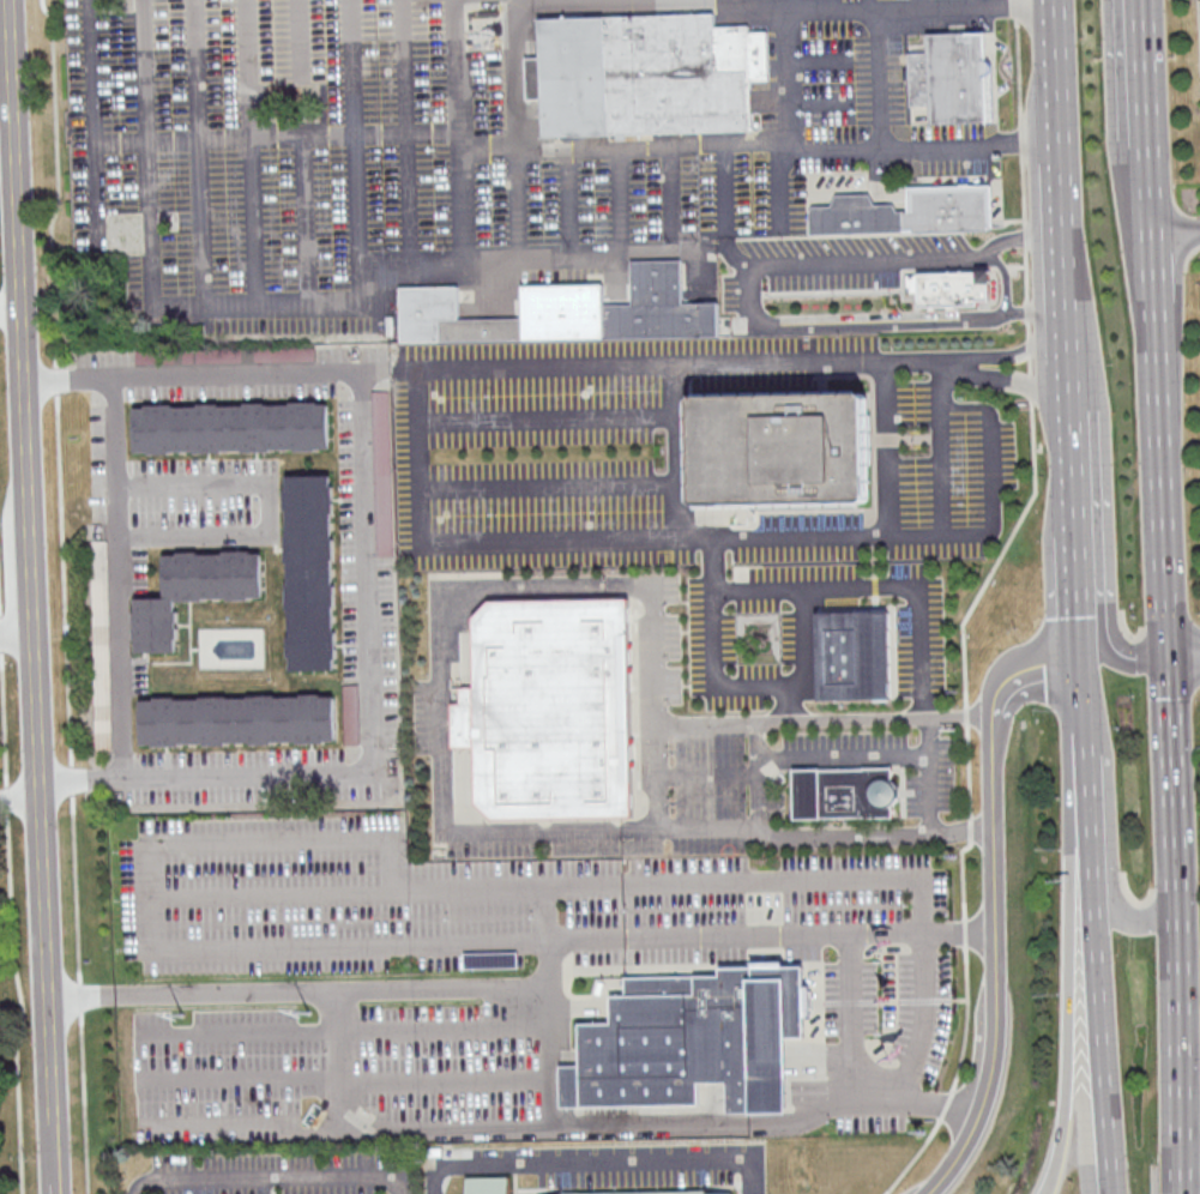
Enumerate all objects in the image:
road: (970, 0)
road: (625, 1)
road: (918, 1)
road: (578, 2)
road: (635, 2)
road: (836, 2)
road: (870, 4)
road: (822, 59)
road: (1145, 67)
building: (649, 74)
building: (952, 77)
road: (791, 78)
road: (824, 101)
road: (95, 125)
road: (519, 128)
road: (406, 131)
road: (360, 134)
road: (899, 144)
road: (670, 145)
road: (790, 149)
road: (200, 152)
road: (253, 152)
road: (304, 152)
road: (16, 157)
road: (724, 181)
road: (356, 183)
road: (59, 185)
road: (671, 198)
road: (571, 203)
road: (1063, 205)
building: (909, 212)
road: (1175, 234)
road: (674, 249)
road: (909, 259)
road: (465, 260)
road: (155, 276)
road: (1007, 277)
building: (954, 290)
building: (567, 310)
road: (11, 315)
road: (887, 321)
road: (1024, 348)
building: (239, 354)
road: (659, 367)
road: (822, 378)
road: (56, 381)
road: (1017, 382)
road: (1158, 396)
road: (1072, 414)
road: (571, 417)
building: (233, 429)
road: (906, 436)
building: (780, 446)
road: (943, 448)
road: (885, 450)
road: (874, 468)
road: (28, 475)
road: (1075, 476)
road: (679, 477)
road: (549, 481)
road: (266, 508)
road: (706, 541)
road: (367, 567)
building: (312, 575)
road: (1078, 575)
road: (116, 578)
road: (64, 581)
road: (881, 586)
building: (194, 596)
road: (976, 601)
road: (891, 607)
road: (0, 610)
building: (101, 628)
road: (17, 635)
road: (1, 637)
road: (801, 640)
road: (1080, 641)
road: (713, 650)
building: (854, 653)
road: (1184, 655)
road: (1115, 656)
traffic signals: (1170, 657)
traffic signals: (1081, 668)
road: (1024, 671)
road: (1083, 712)
building: (350, 713)
building: (542, 713)
road: (37, 717)
road: (875, 718)
road: (4, 719)
building: (240, 720)
road: (857, 753)
road: (439, 759)
road: (657, 771)
road: (707, 774)
road: (759, 776)
road: (72, 782)
road: (928, 789)
building: (838, 796)
road: (6, 798)
road: (1086, 798)
road: (19, 800)
road: (1091, 872)
road: (641, 885)
road: (77, 892)
road: (549, 915)
road: (1144, 923)
road: (1180, 924)
road: (776, 935)
road: (158, 945)
road: (1007, 961)
road: (316, 987)
road: (80, 995)
road: (46, 996)
road: (20, 1001)
road: (1077, 1019)
road: (368, 1033)
building: (698, 1042)
road: (1104, 1048)
road: (863, 1066)
road: (551, 1078)
road: (343, 1081)
road: (83, 1099)
road: (719, 1124)
road: (309, 1129)
road: (438, 1129)
road: (598, 1159)
road: (273, 1178)
building: (490, 1186)
building: (662, 1193)
building: (726, 1193)

